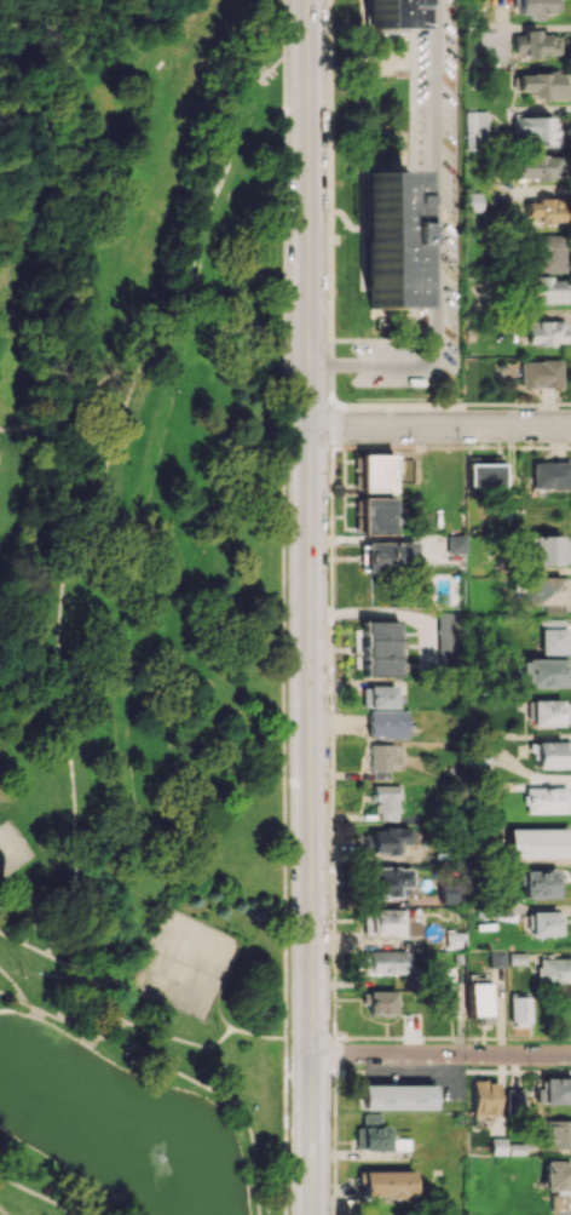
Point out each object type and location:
building: (533, 7)
street lamp: (454, 11)
building: (385, 13)
building: (535, 44)
street lamp: (335, 59)
road: (271, 64)
street lamp: (402, 74)
street lamp: (452, 84)
building: (541, 84)
street lamp: (403, 125)
building: (475, 128)
building: (533, 131)
building: (537, 166)
street lamp: (288, 178)
road: (329, 201)
building: (471, 201)
building: (543, 211)
street lamp: (454, 220)
building: (386, 236)
road: (434, 242)
building: (549, 253)
road: (189, 270)
street lamp: (454, 276)
building: (547, 290)
street lamp: (327, 296)
building: (546, 332)
street lamp: (455, 337)
building: (540, 373)
street lamp: (373, 388)
road: (307, 405)
street lamp: (284, 420)
road: (438, 426)
street lamp: (458, 442)
street lamp: (411, 443)
street lamp: (329, 446)
building: (375, 472)
building: (483, 474)
building: (549, 475)
building: (375, 515)
building: (455, 543)
building: (548, 550)
building: (388, 556)
street lamp: (329, 584)
building: (547, 592)
road: (283, 607)
road: (306, 607)
park: (143, 609)
building: (552, 636)
building: (446, 638)
road: (58, 643)
road: (119, 648)
building: (379, 648)
street lamp: (285, 670)
building: (544, 672)
building: (377, 697)
building: (548, 712)
building: (387, 724)
building: (552, 755)
building: (479, 757)
building: (385, 758)
street lamp: (336, 789)
building: (543, 800)
building: (386, 801)
road: (331, 809)
building: (388, 839)
building: (536, 843)
park: (12, 849)
road: (2, 881)
building: (390, 881)
building: (538, 883)
building: (449, 896)
street lamp: (287, 912)
building: (382, 922)
building: (543, 923)
building: (455, 939)
building: (506, 958)
building: (383, 961)
park: (184, 964)
building: (554, 969)
road: (99, 974)
road: (13, 985)
building: (446, 991)
building: (478, 1001)
building: (381, 1002)
building: (519, 1010)
road: (221, 1015)
road: (132, 1024)
road: (121, 1031)
street lamp: (329, 1033)
street lamp: (393, 1039)
road: (439, 1053)
road: (172, 1067)
building: (554, 1090)
building: (394, 1096)
building: (484, 1097)
building: (514, 1101)
street lamp: (288, 1112)
building: (371, 1134)
building: (556, 1134)
building: (497, 1146)
fountain: (171, 1152)
building: (556, 1175)
building: (387, 1182)
road: (36, 1196)
building: (558, 1202)
road: (1, 1211)

